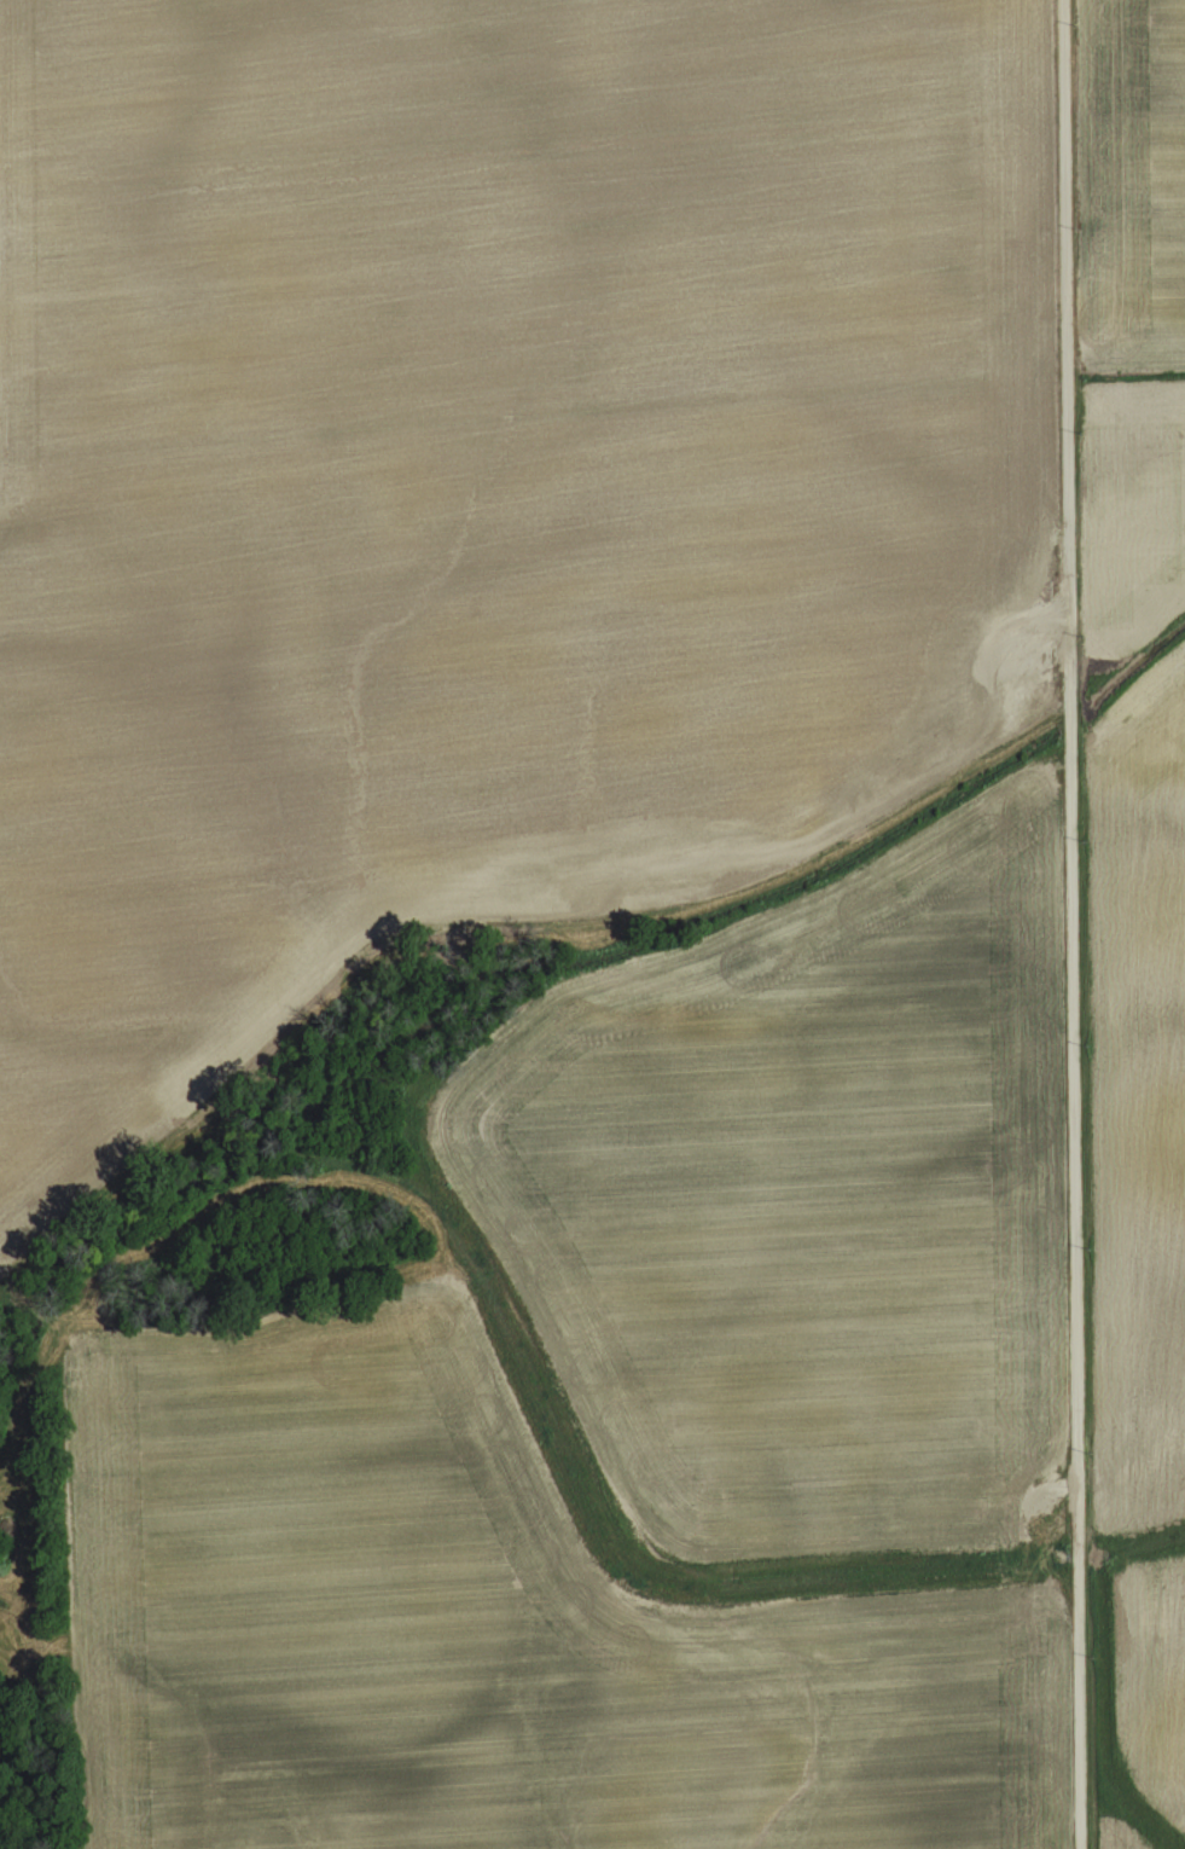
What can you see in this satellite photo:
road: (1076, 924)

